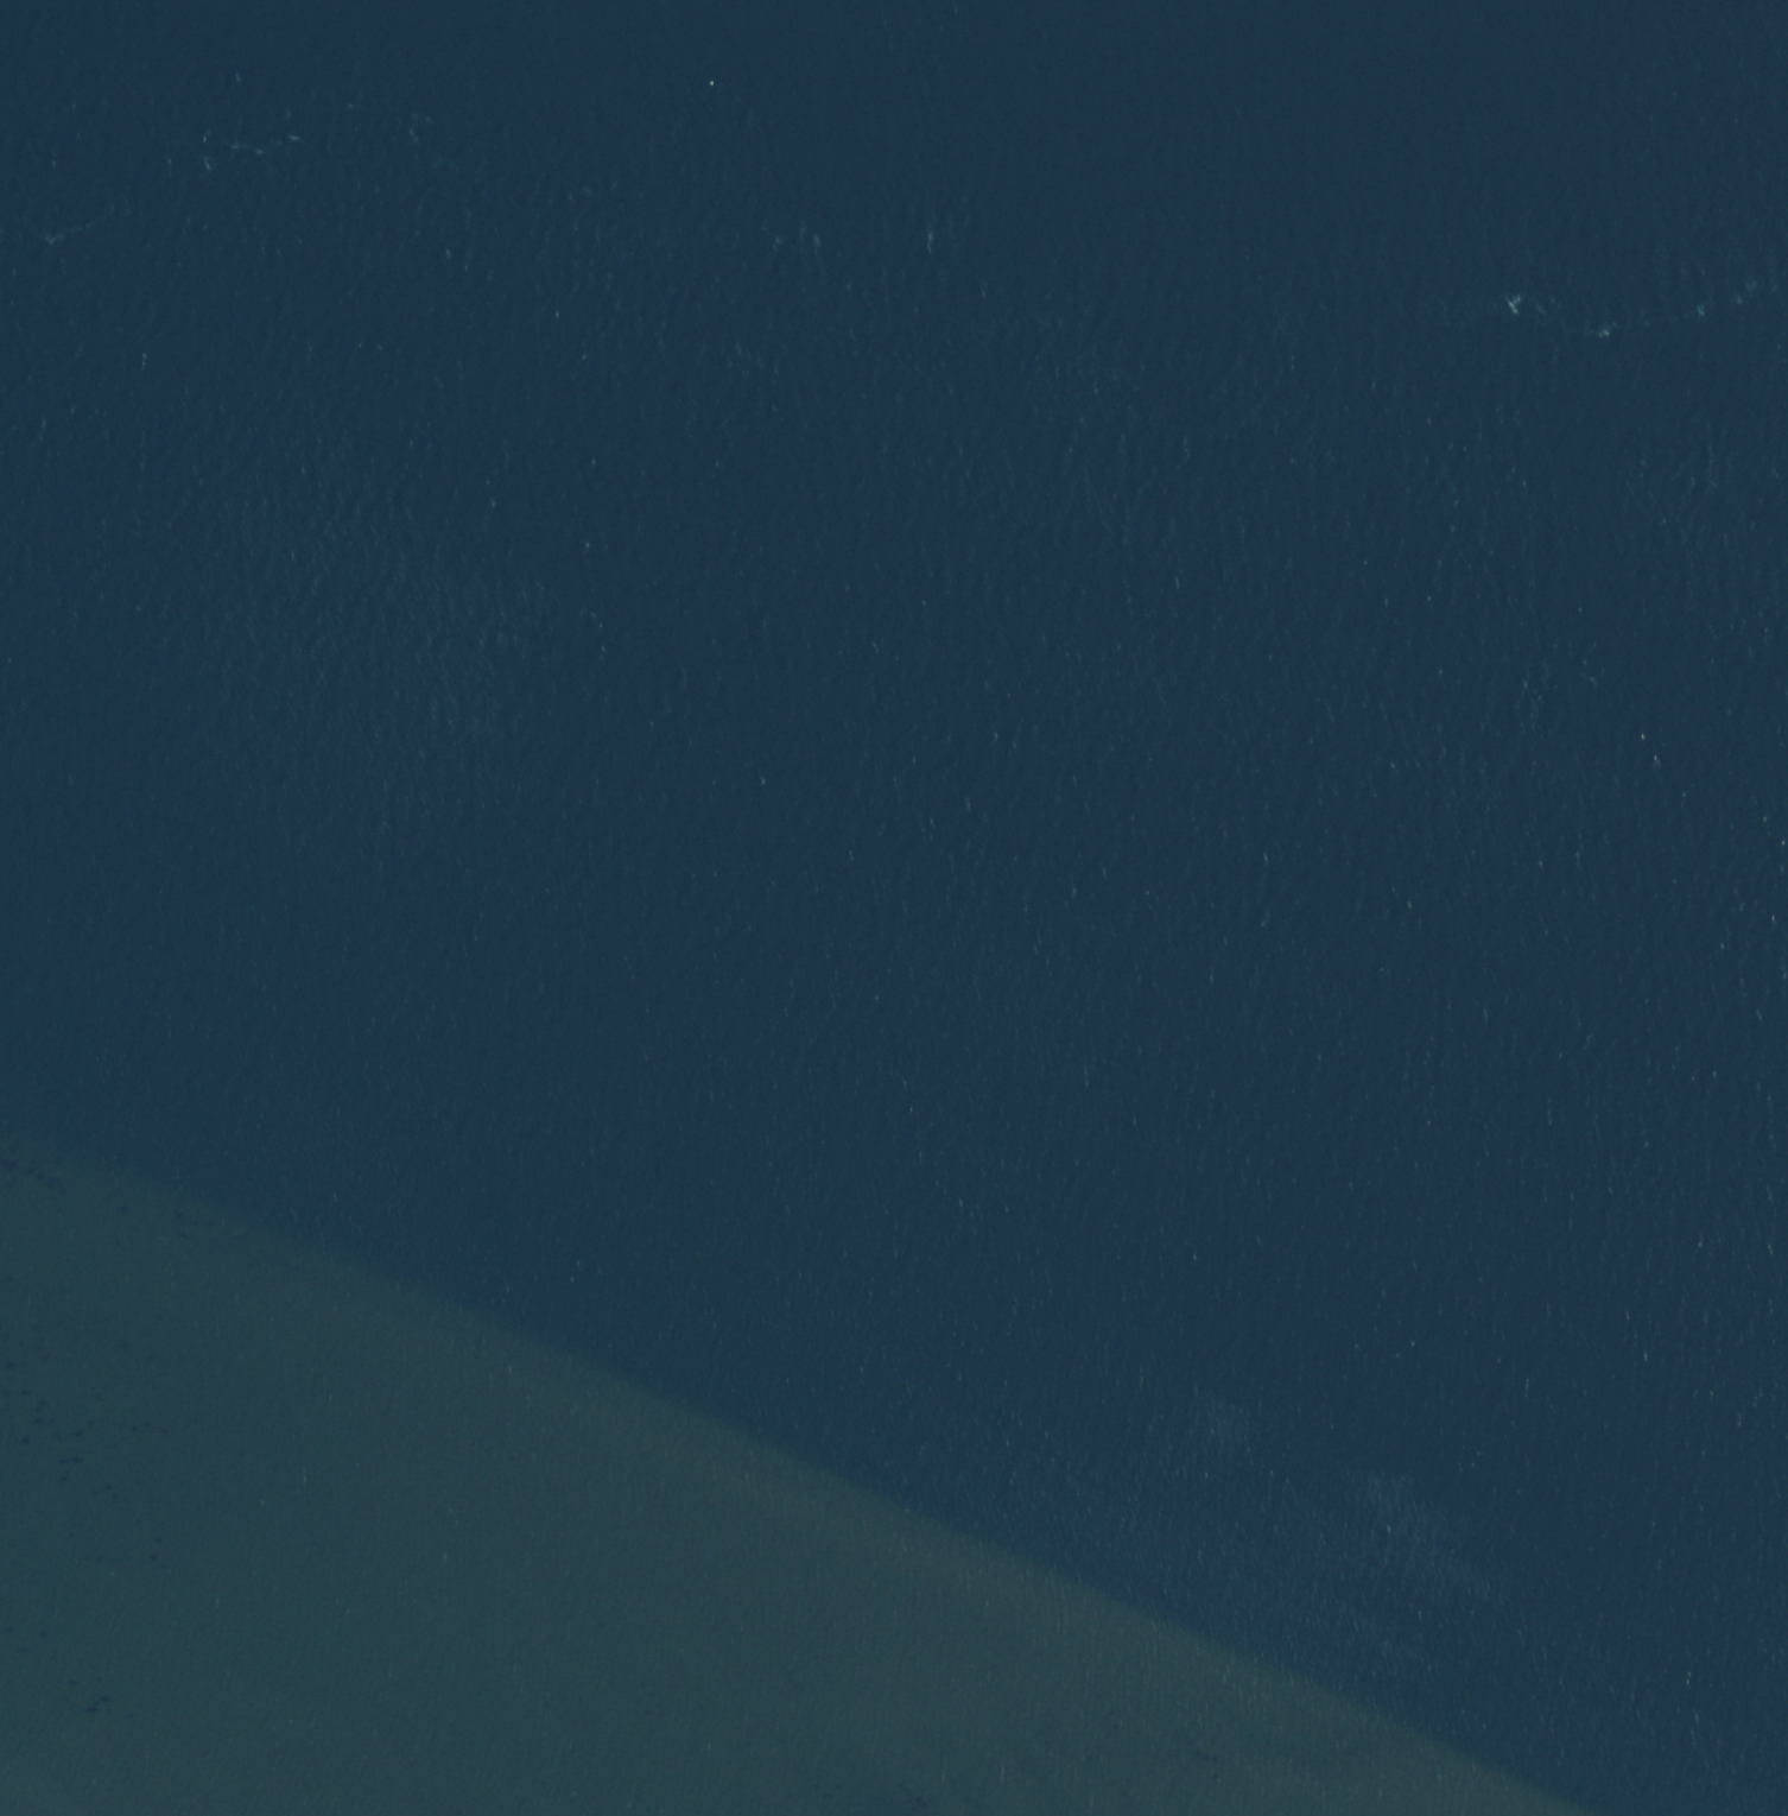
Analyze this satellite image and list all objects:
river: (894, 499)

